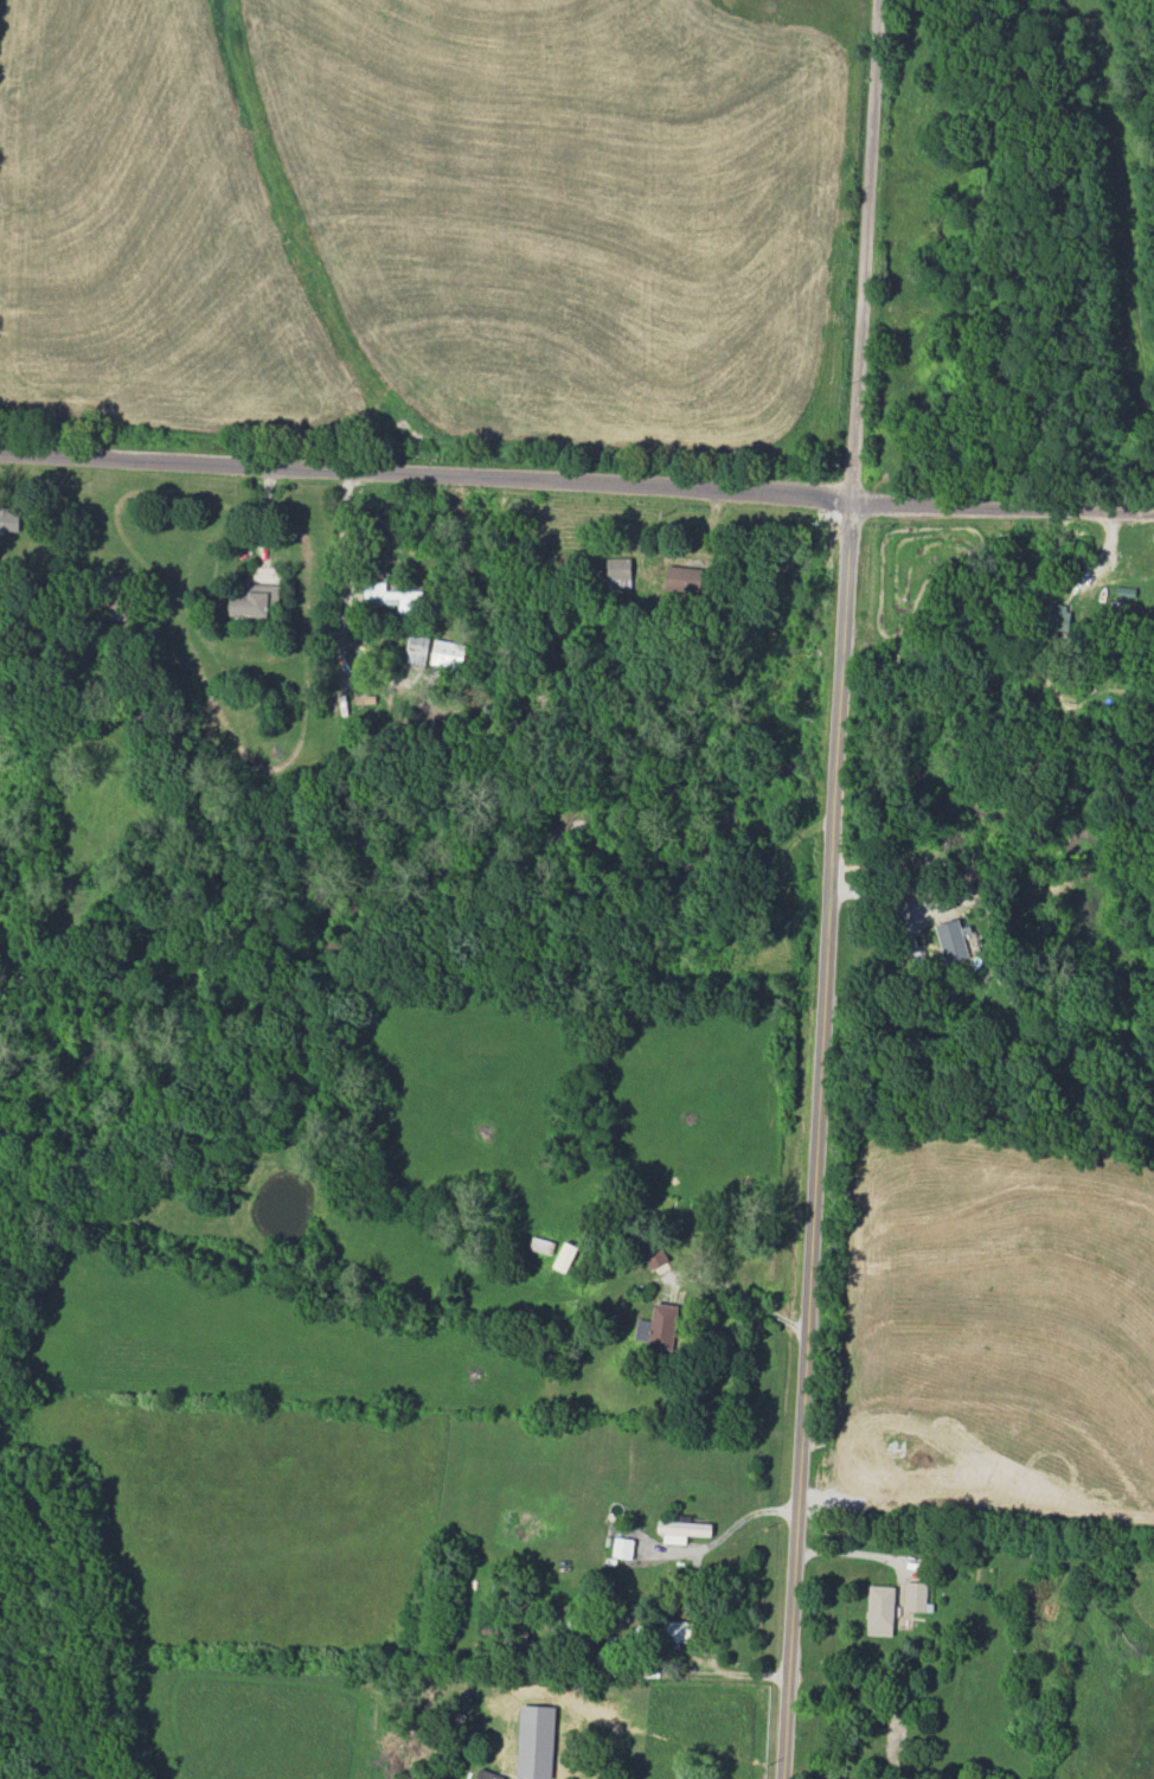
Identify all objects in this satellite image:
crop: (431, 225)
road: (870, 247)
road: (428, 468)
road: (1005, 500)
building: (8, 520)
building: (618, 572)
building: (685, 578)
building: (389, 594)
building: (255, 601)
building: (416, 648)
building: (448, 653)
building: (954, 939)
road: (822, 1135)
building: (654, 1254)
road: (743, 1295)
building: (659, 1327)
crop: (989, 1335)
road: (741, 1515)
building: (682, 1530)
building: (622, 1547)
road: (854, 1549)
building: (915, 1595)
building: (880, 1610)
building: (677, 1631)
building: (536, 1741)
building: (488, 1774)

